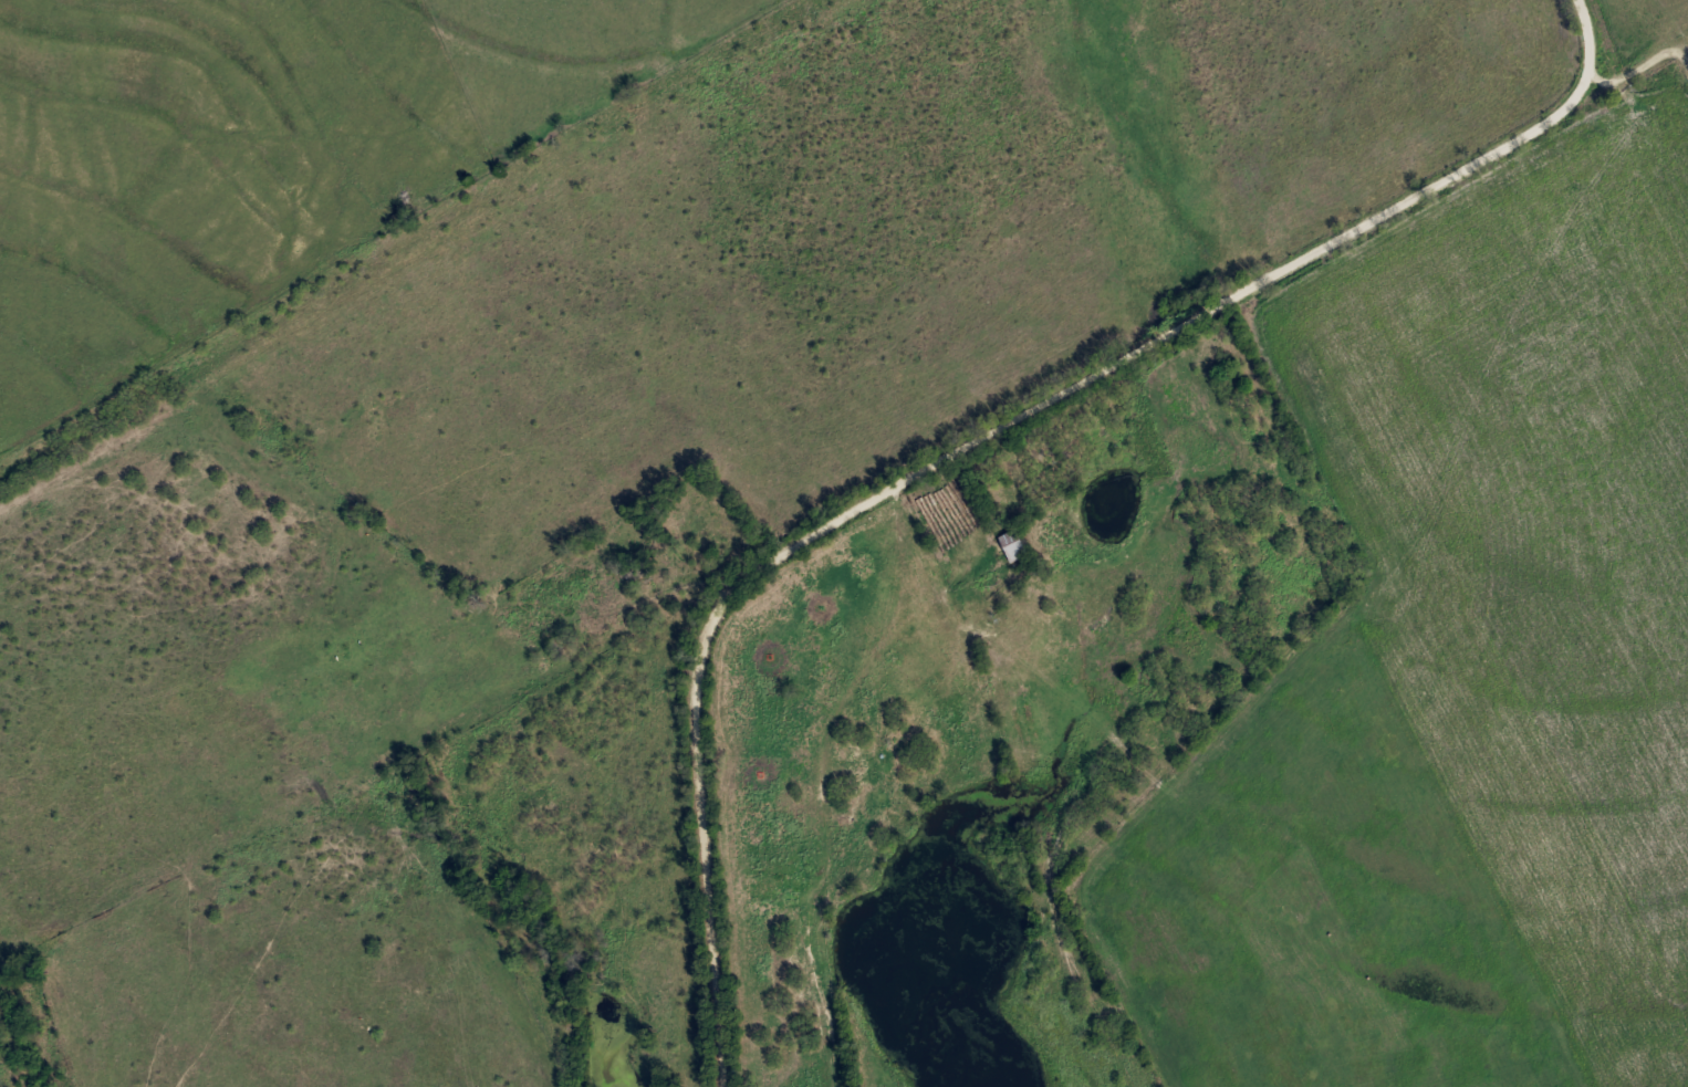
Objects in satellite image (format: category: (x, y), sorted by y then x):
road: (1636, 85)
road: (973, 438)
building: (1010, 544)
road: (678, 567)

